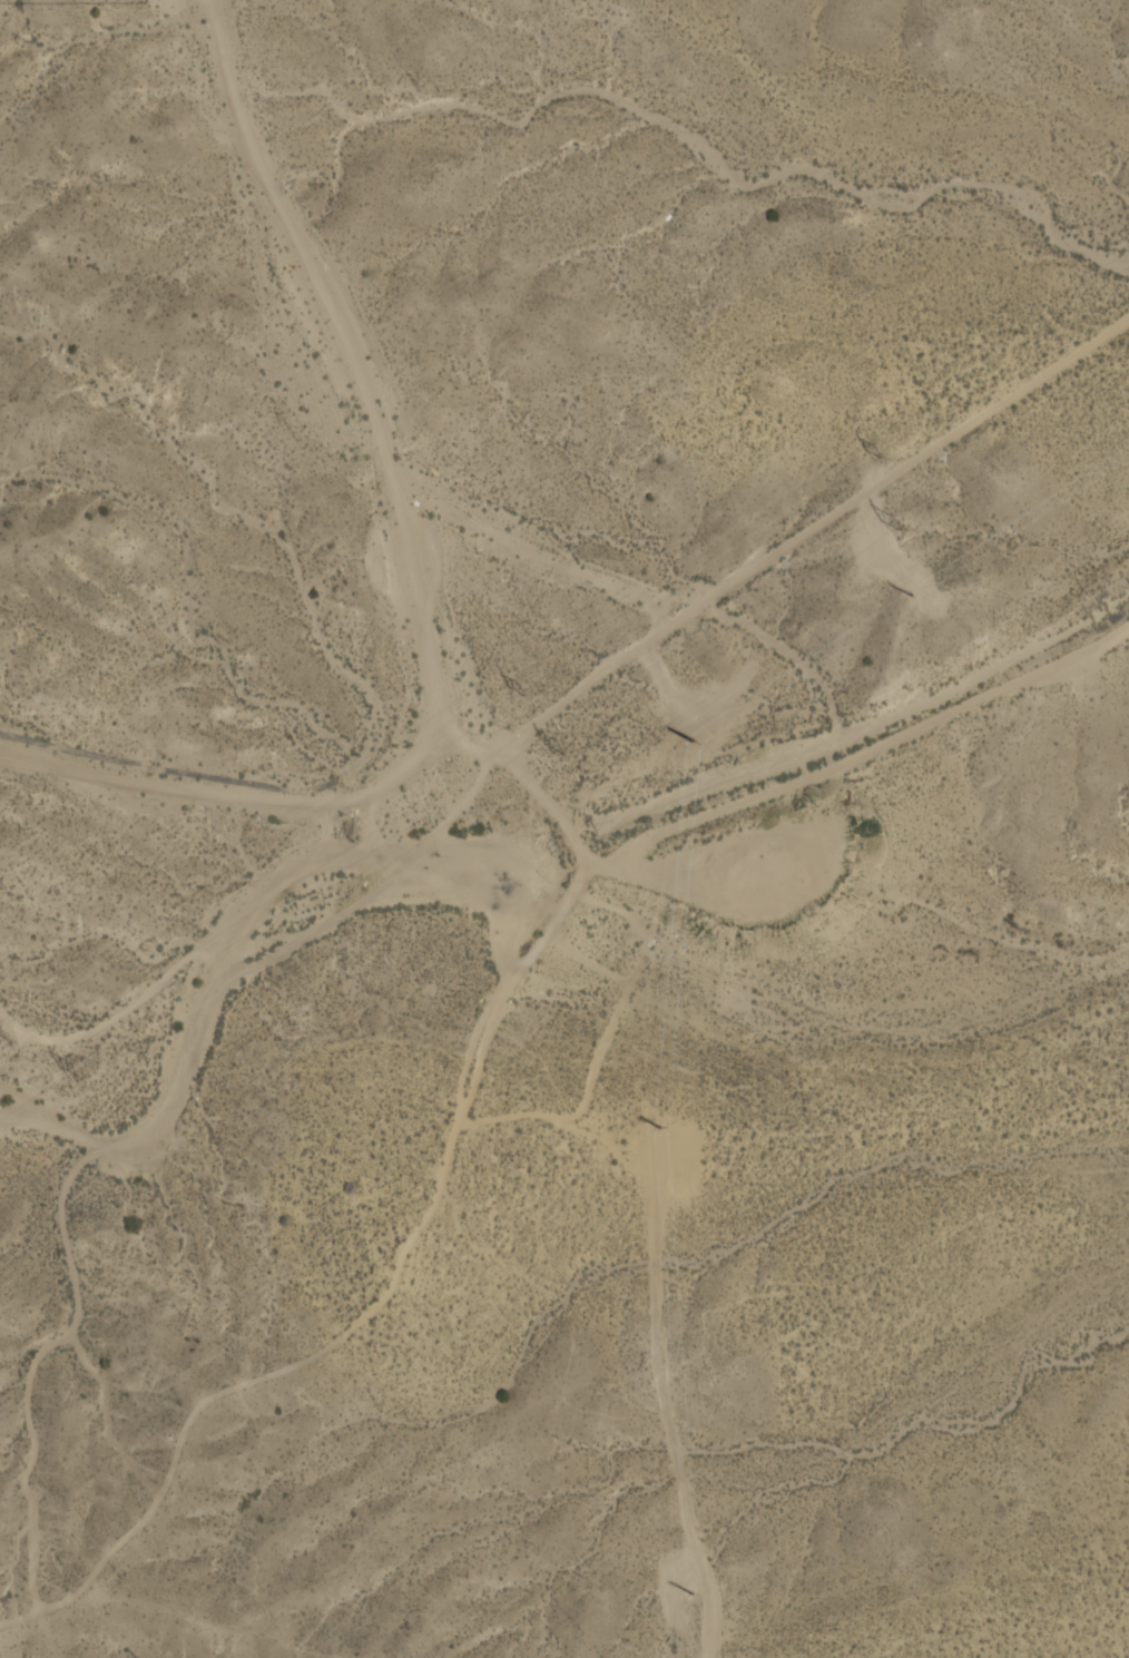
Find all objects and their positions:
power tower: (875, 453)
power tower: (891, 523)
road: (537, 556)
power tower: (915, 599)
power tower: (520, 689)
power tower: (559, 744)
road: (870, 753)
power tower: (670, 763)
road: (354, 802)
dam: (586, 844)
road: (678, 879)
power tower: (1, 1036)
power tower: (70, 1069)
power tower: (679, 1156)
power tower: (691, 1596)

